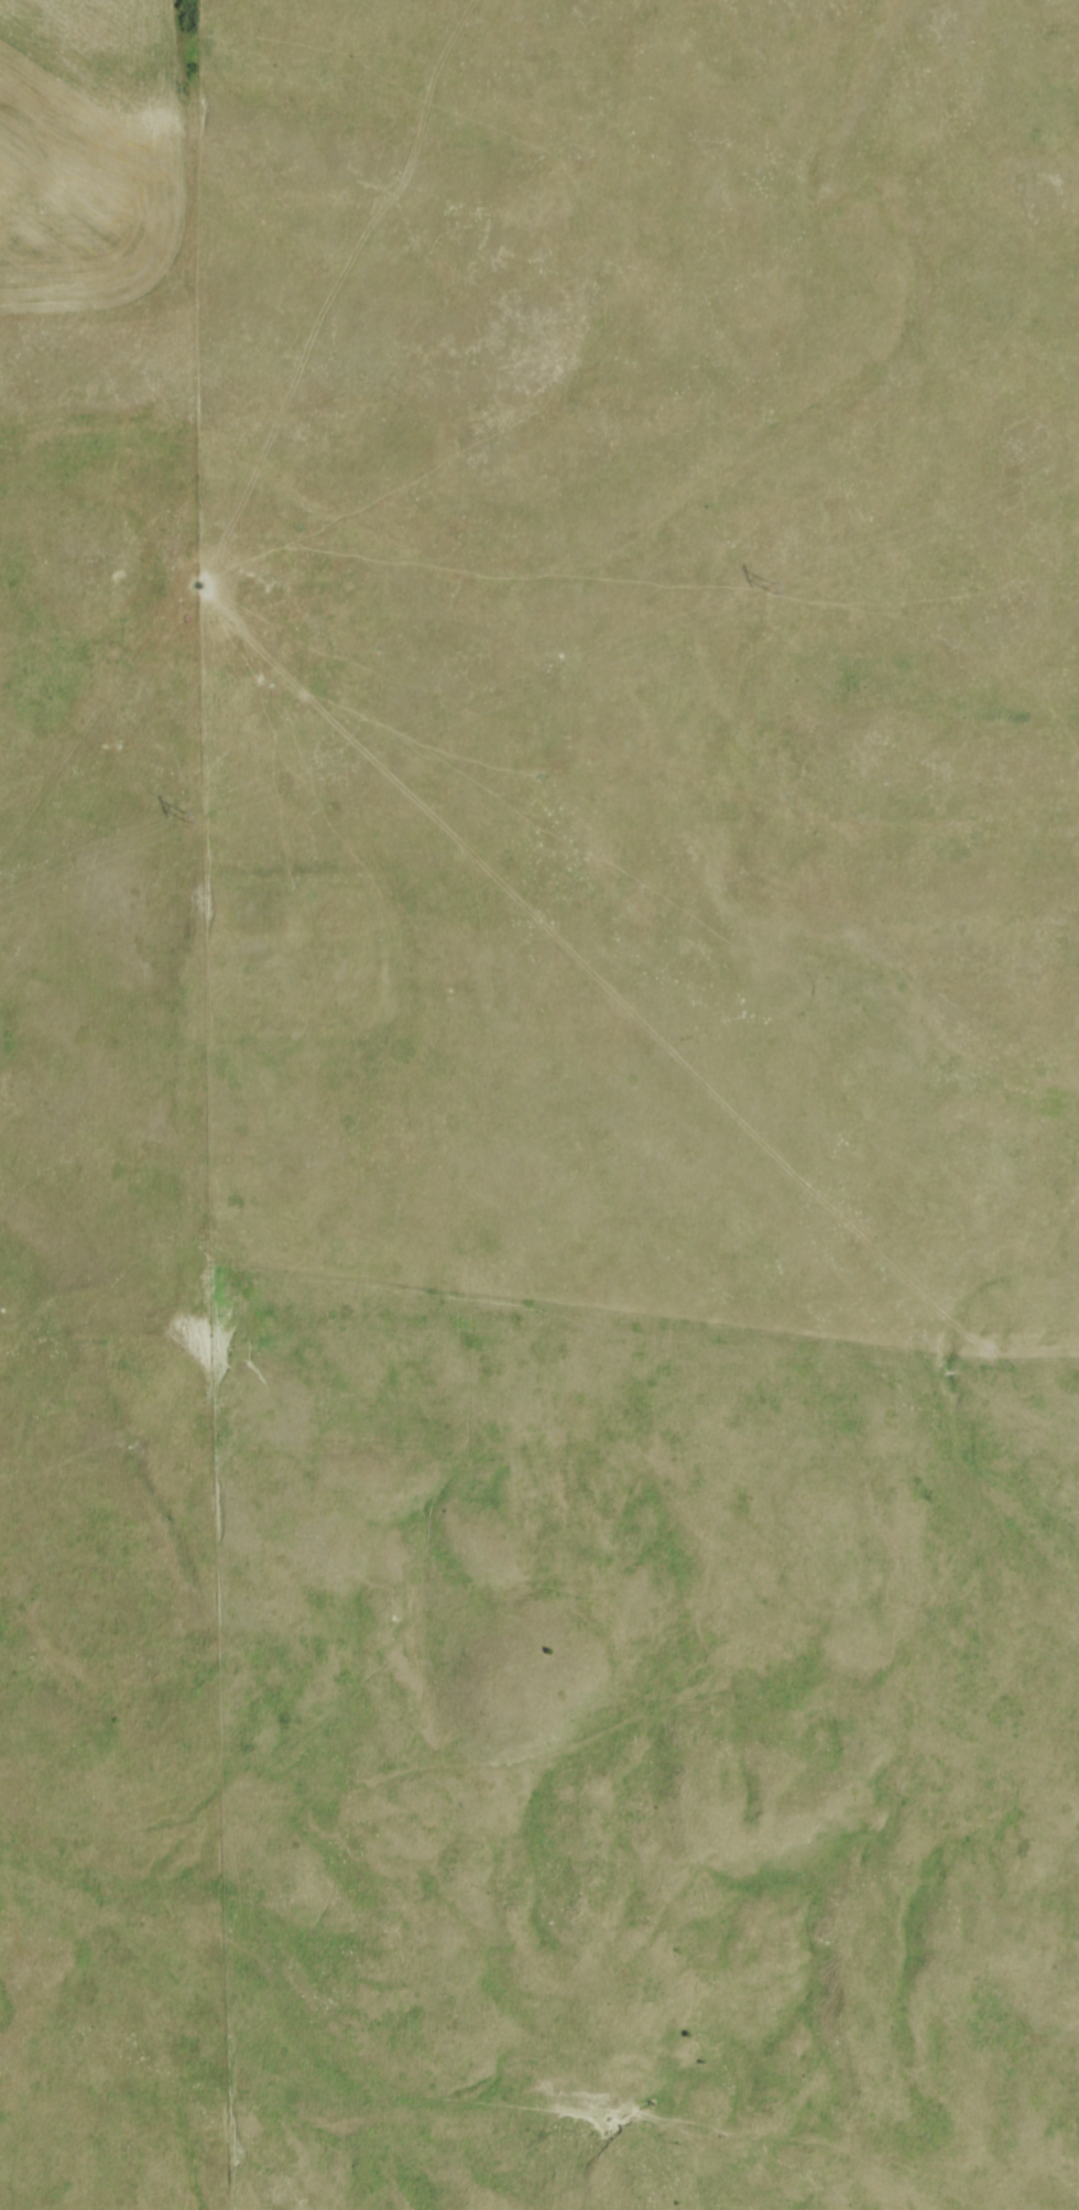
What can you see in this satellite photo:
power tower: (770, 590)
power tower: (184, 818)

